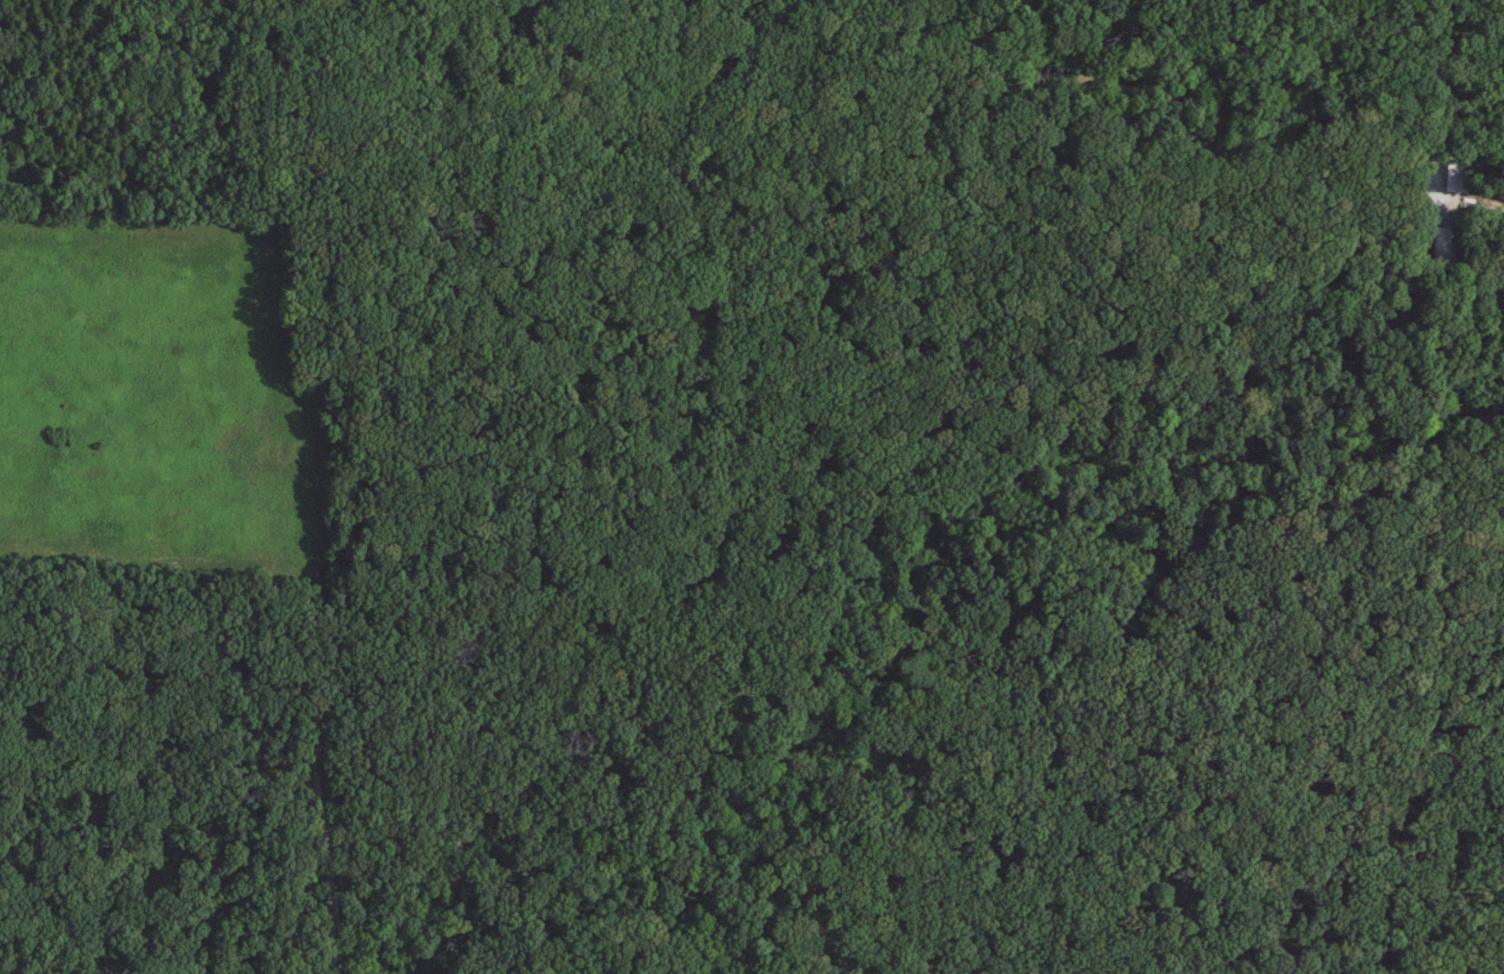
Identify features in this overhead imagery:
road: (1476, 210)

